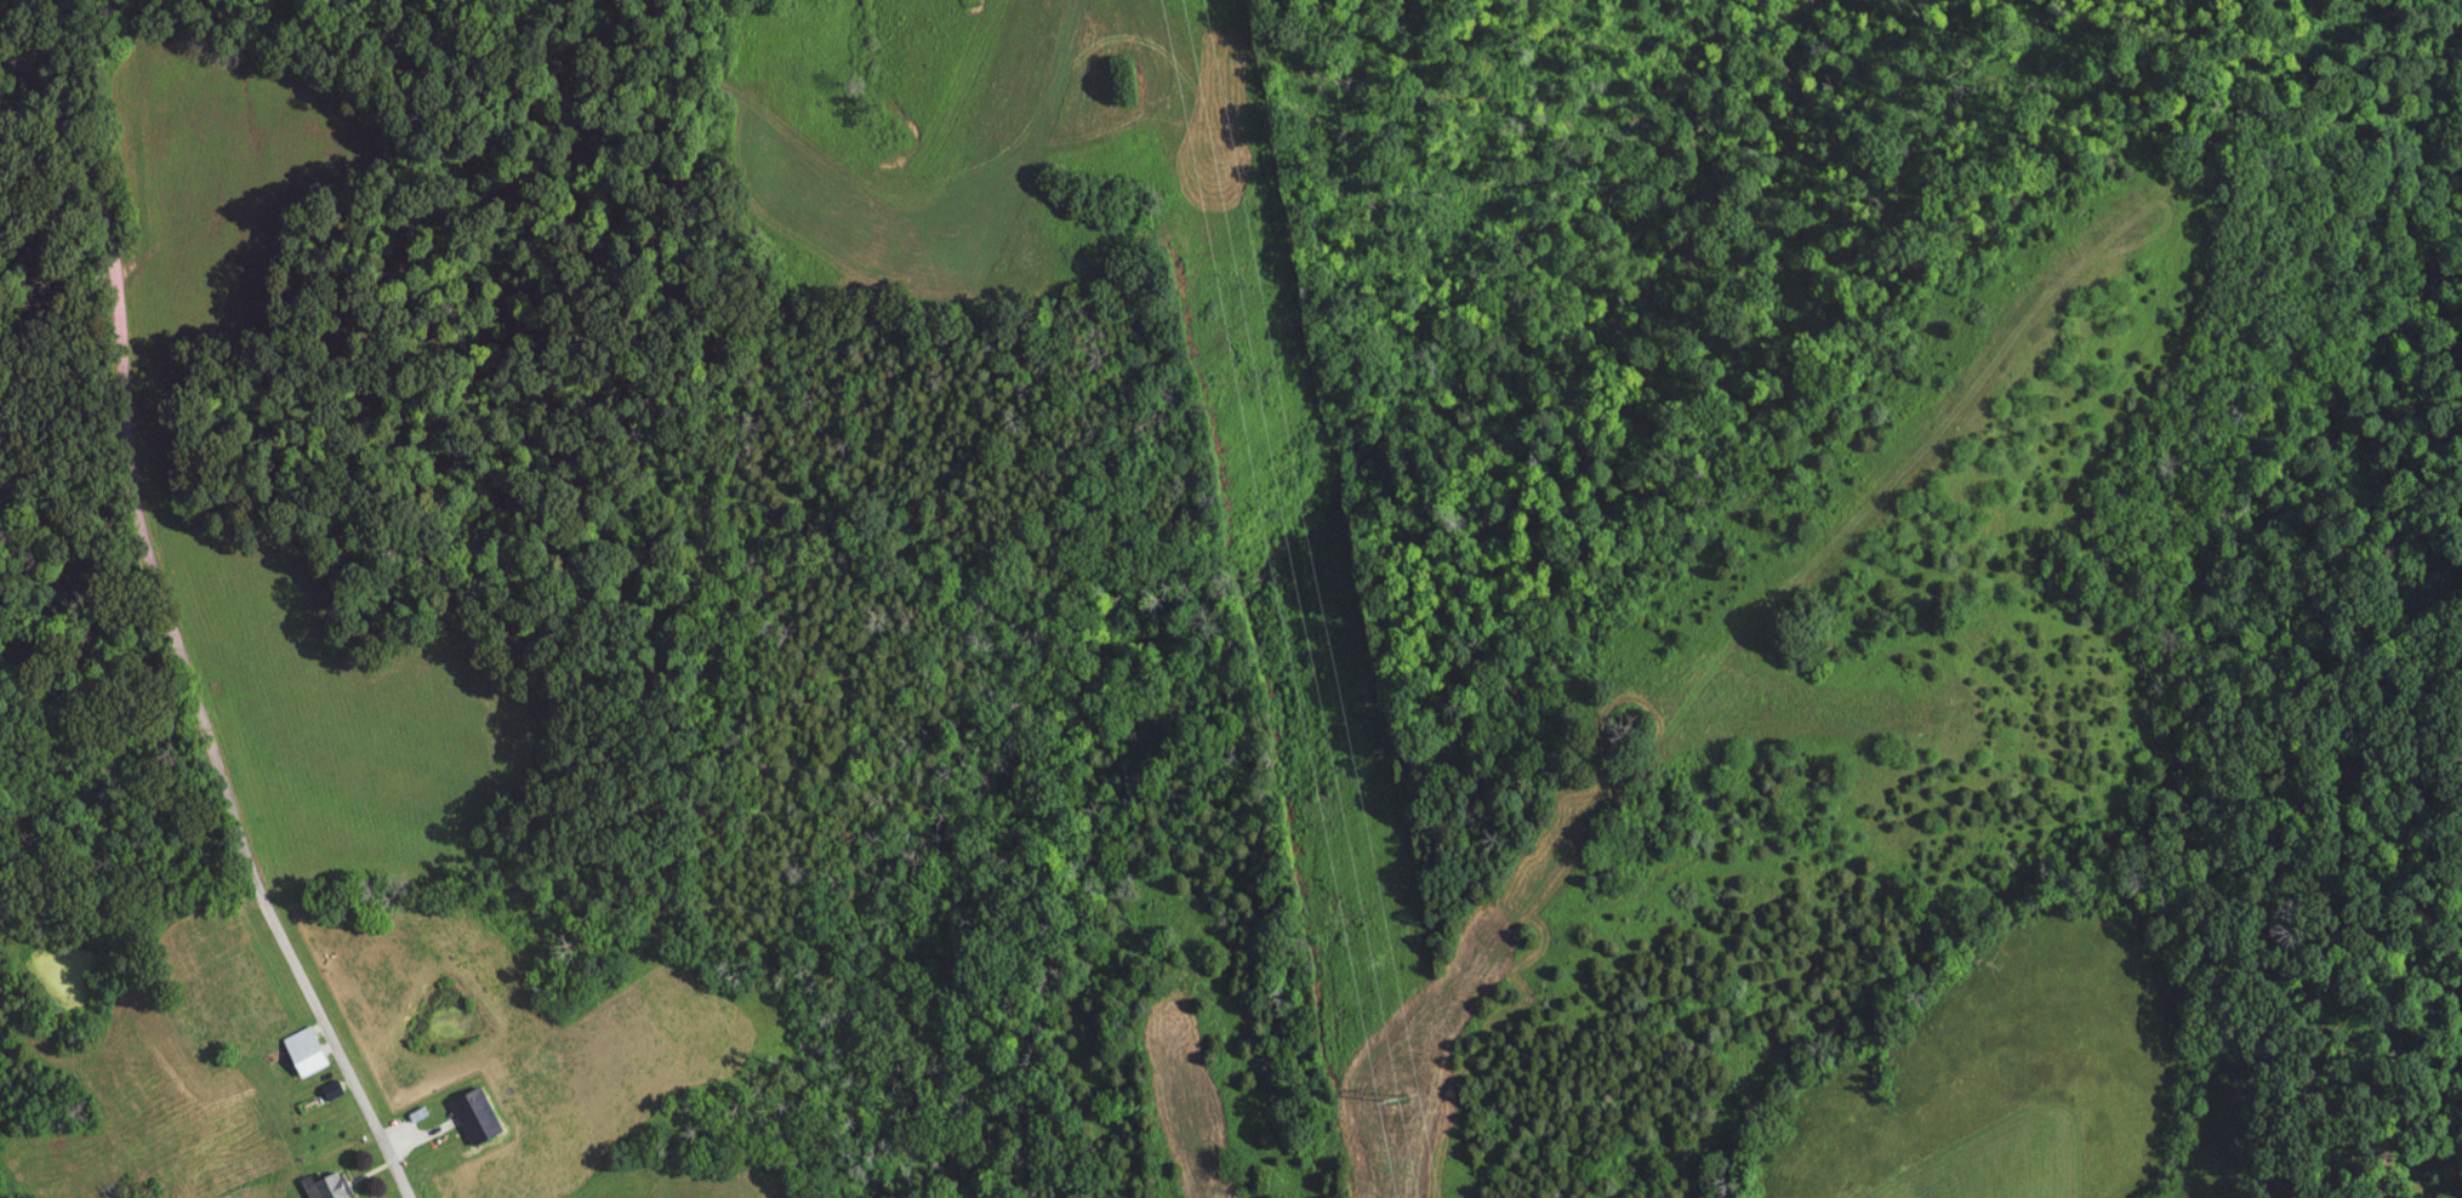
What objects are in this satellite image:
road: (181, 617)
building: (307, 1057)
power tower: (1391, 1097)
building: (475, 1123)
building: (325, 1190)

